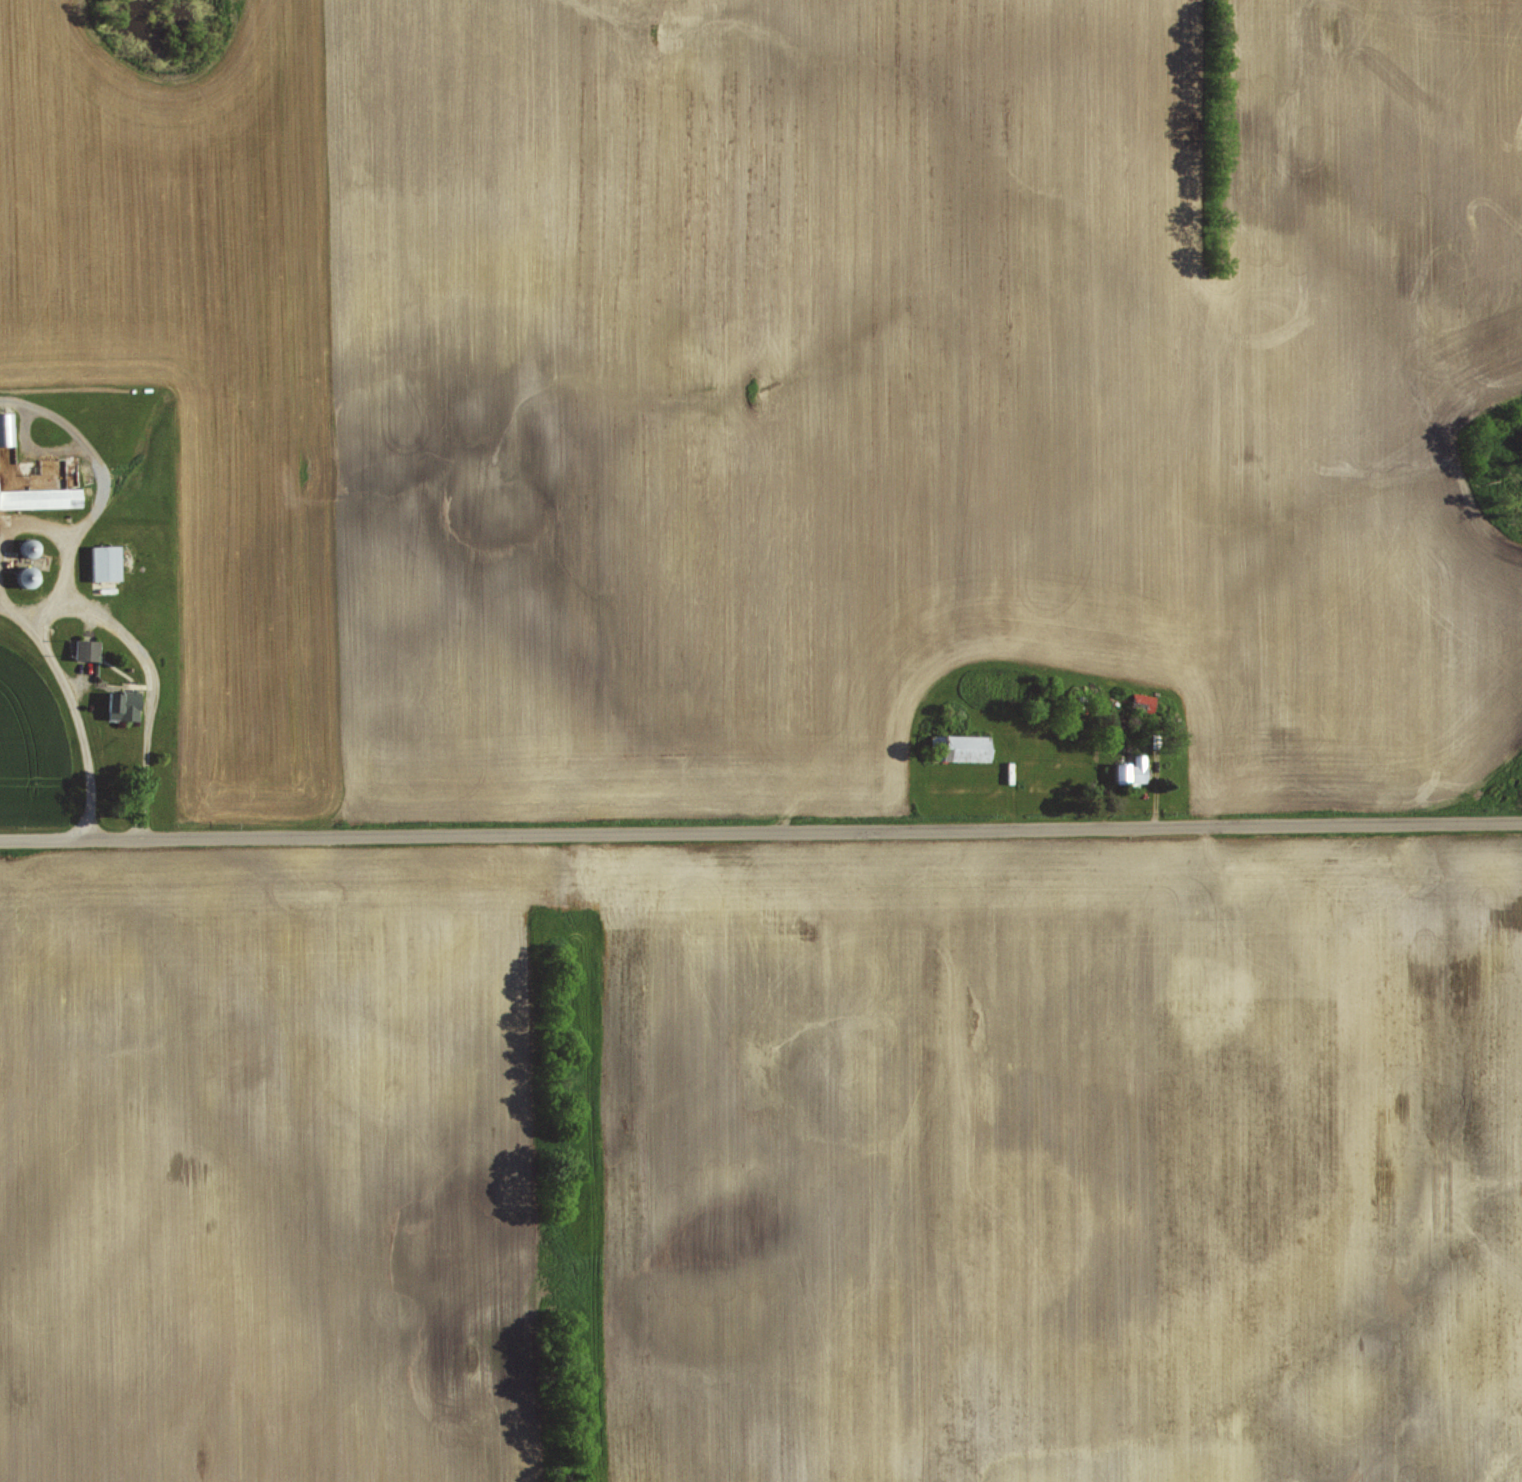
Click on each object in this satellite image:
crop: (912, 391)
building: (6, 427)
building: (40, 496)
building: (103, 561)
building: (86, 647)
building: (1140, 700)
building: (122, 703)
building: (957, 746)
building: (1128, 769)
road: (761, 832)

